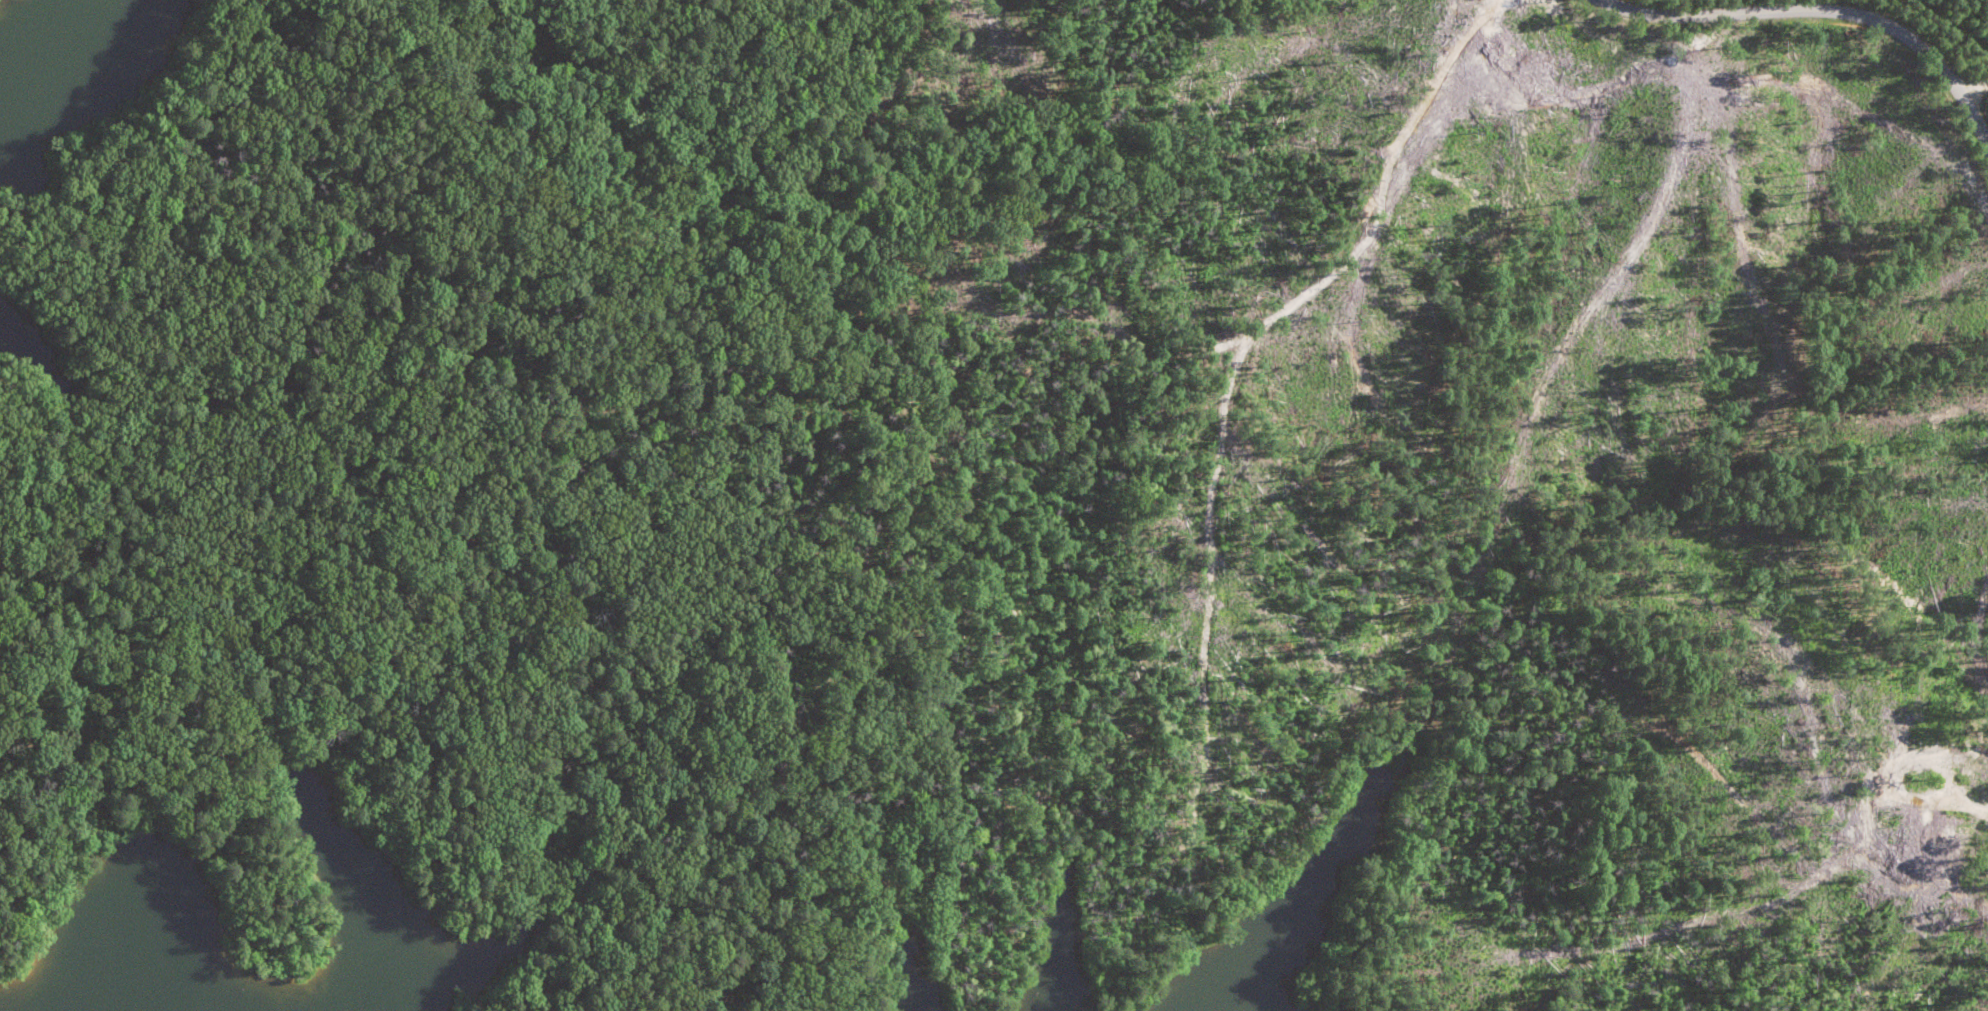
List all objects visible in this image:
road: (1831, 21)

